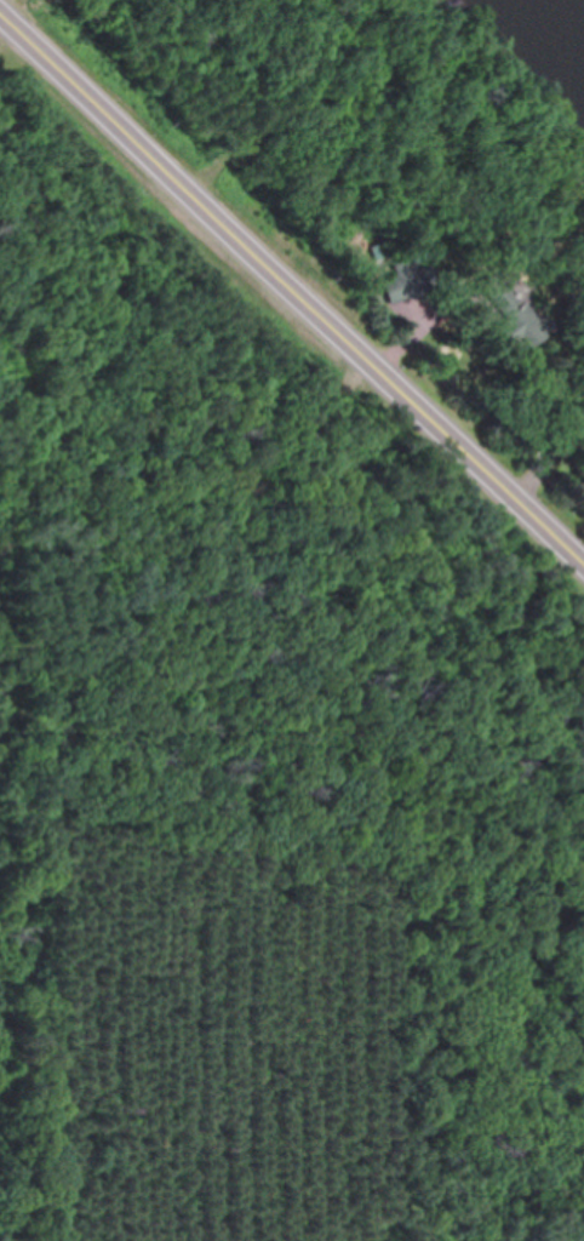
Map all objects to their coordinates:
building: (407, 280)
road: (293, 290)
building: (508, 311)
building: (573, 425)

